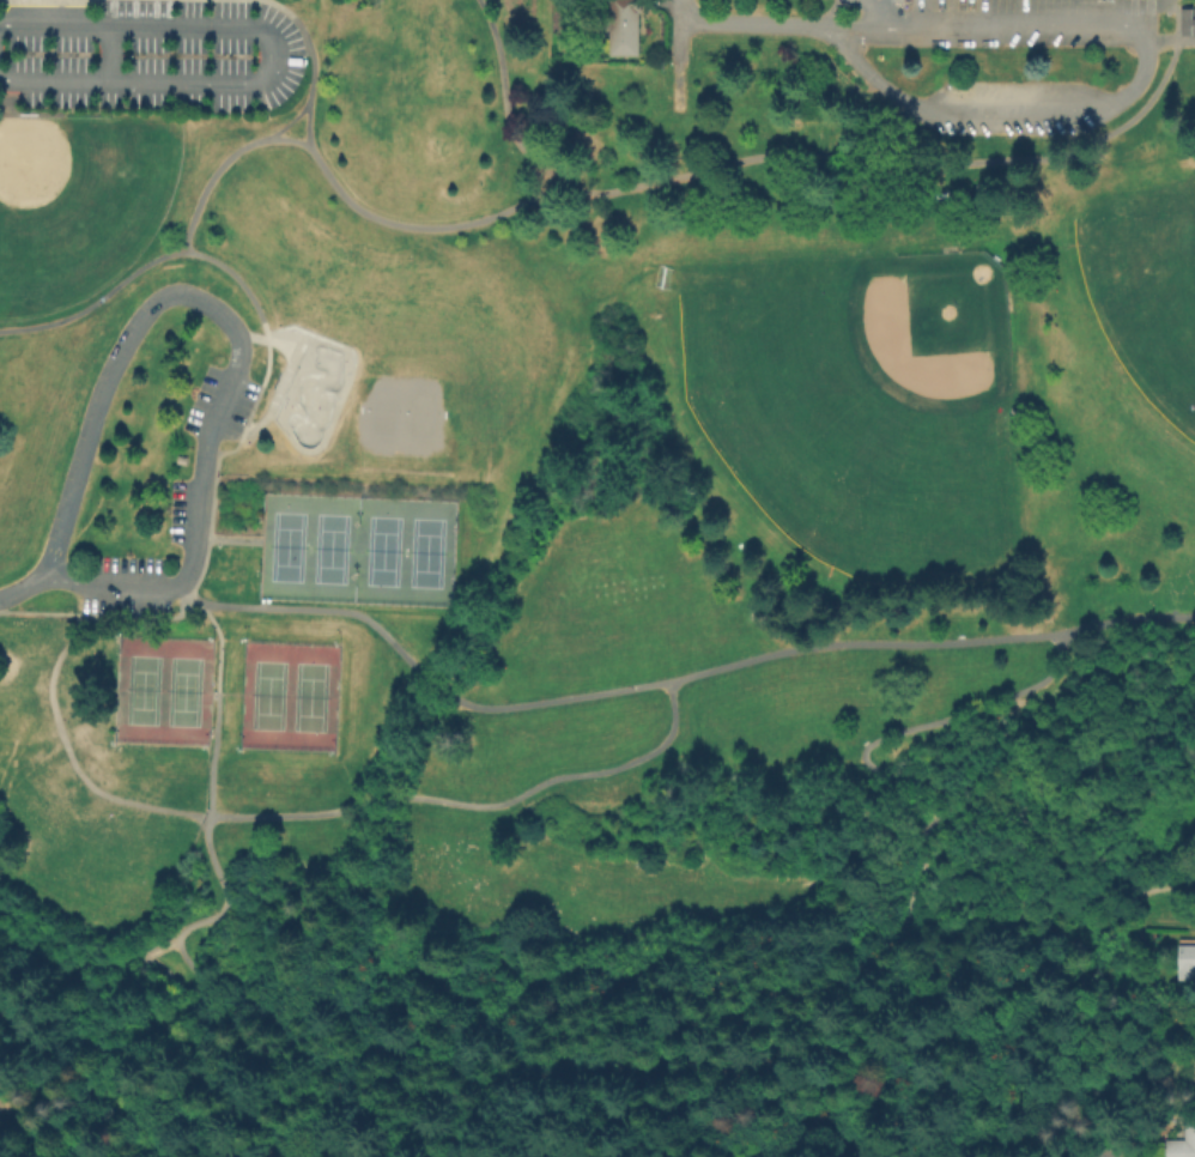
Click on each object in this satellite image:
road: (1147, 12)
road: (757, 23)
road: (984, 23)
building: (1183, 23)
building: (620, 28)
road: (673, 31)
road: (1167, 42)
road: (291, 50)
road: (275, 53)
parking lot: (152, 56)
road: (309, 63)
road: (502, 98)
road: (1002, 110)
road: (287, 123)
road: (912, 160)
road: (335, 188)
park: (74, 213)
road: (238, 281)
road: (186, 298)
road: (95, 301)
park: (1145, 302)
park: (1161, 313)
road: (251, 337)
park: (308, 386)
parking lot: (204, 393)
park: (865, 405)
parking lot: (242, 407)
park: (401, 417)
road: (255, 428)
building: (183, 459)
road: (216, 459)
parking lot: (176, 515)
road: (225, 539)
park: (285, 546)
park: (328, 549)
park: (381, 550)
park: (424, 551)
parking lot: (126, 564)
park: (593, 578)
road: (25, 587)
road: (110, 587)
road: (182, 590)
road: (194, 600)
parking lot: (123, 606)
road: (101, 614)
road: (1127, 618)
road: (217, 647)
park: (141, 689)
road: (615, 689)
park: (182, 690)
road: (225, 693)
park: (266, 695)
park: (308, 697)
road: (420, 743)
road: (863, 751)
road: (211, 755)
road: (69, 758)
road: (473, 806)
road: (1098, 889)
road: (187, 962)
road: (978, 962)
building: (1183, 963)
road: (839, 1004)
road: (113, 1011)
road: (56, 1047)
road: (742, 1073)
road: (547, 1095)
road: (639, 1097)
road: (86, 1102)
road: (1069, 1102)
road: (651, 1132)
road: (1082, 1134)
building: (1182, 1140)
road: (584, 1149)

